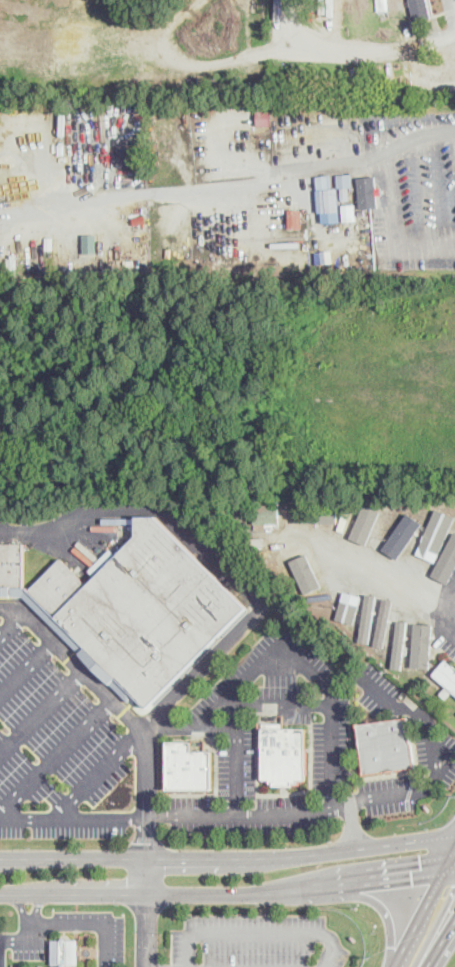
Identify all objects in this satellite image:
building: (382, 6)
building: (421, 10)
road: (358, 47)
building: (127, 156)
road: (322, 162)
building: (344, 179)
road: (164, 190)
building: (368, 192)
building: (344, 196)
building: (327, 198)
building: (294, 218)
road: (397, 219)
building: (58, 239)
building: (90, 242)
building: (71, 248)
building: (265, 512)
building: (365, 523)
building: (437, 534)
building: (401, 535)
road: (214, 556)
building: (132, 608)
road: (12, 627)
building: (399, 642)
building: (379, 645)
road: (276, 664)
road: (26, 668)
building: (445, 673)
road: (284, 701)
road: (216, 708)
road: (40, 710)
road: (134, 720)
road: (189, 729)
building: (386, 746)
parking lot: (55, 748)
road: (55, 754)
building: (284, 755)
building: (190, 767)
road: (79, 792)
road: (339, 804)
road: (351, 825)
road: (435, 852)
road: (228, 857)
traffic signals: (420, 868)
road: (439, 879)
road: (230, 892)
road: (435, 906)
road: (22, 908)
road: (37, 909)
road: (385, 911)
road: (90, 922)
road: (435, 927)
road: (30, 929)
road: (147, 930)
road: (257, 931)
road: (15, 936)
parking lot: (256, 941)
parking lot: (28, 945)
building: (65, 952)
road: (412, 959)

